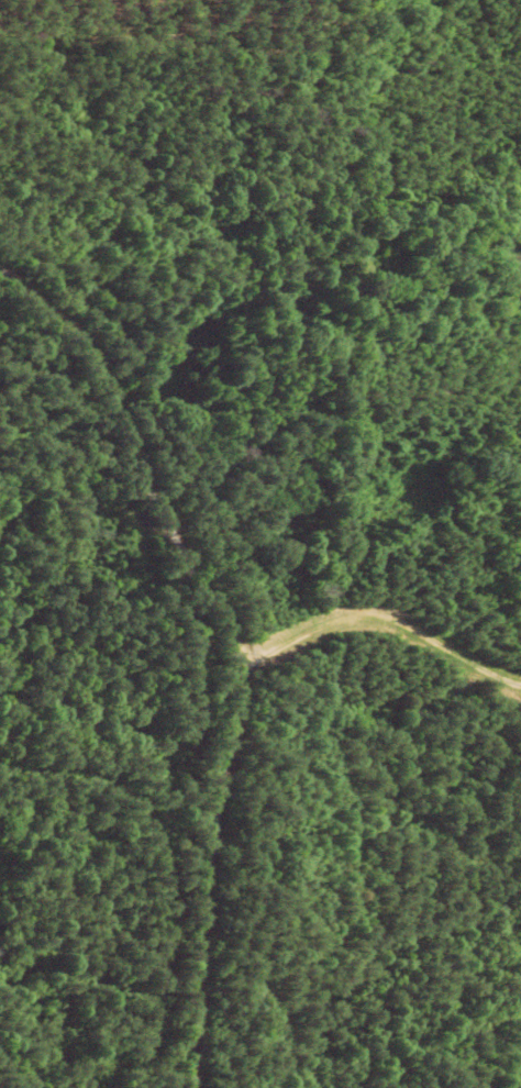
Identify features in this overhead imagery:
road: (197, 665)

